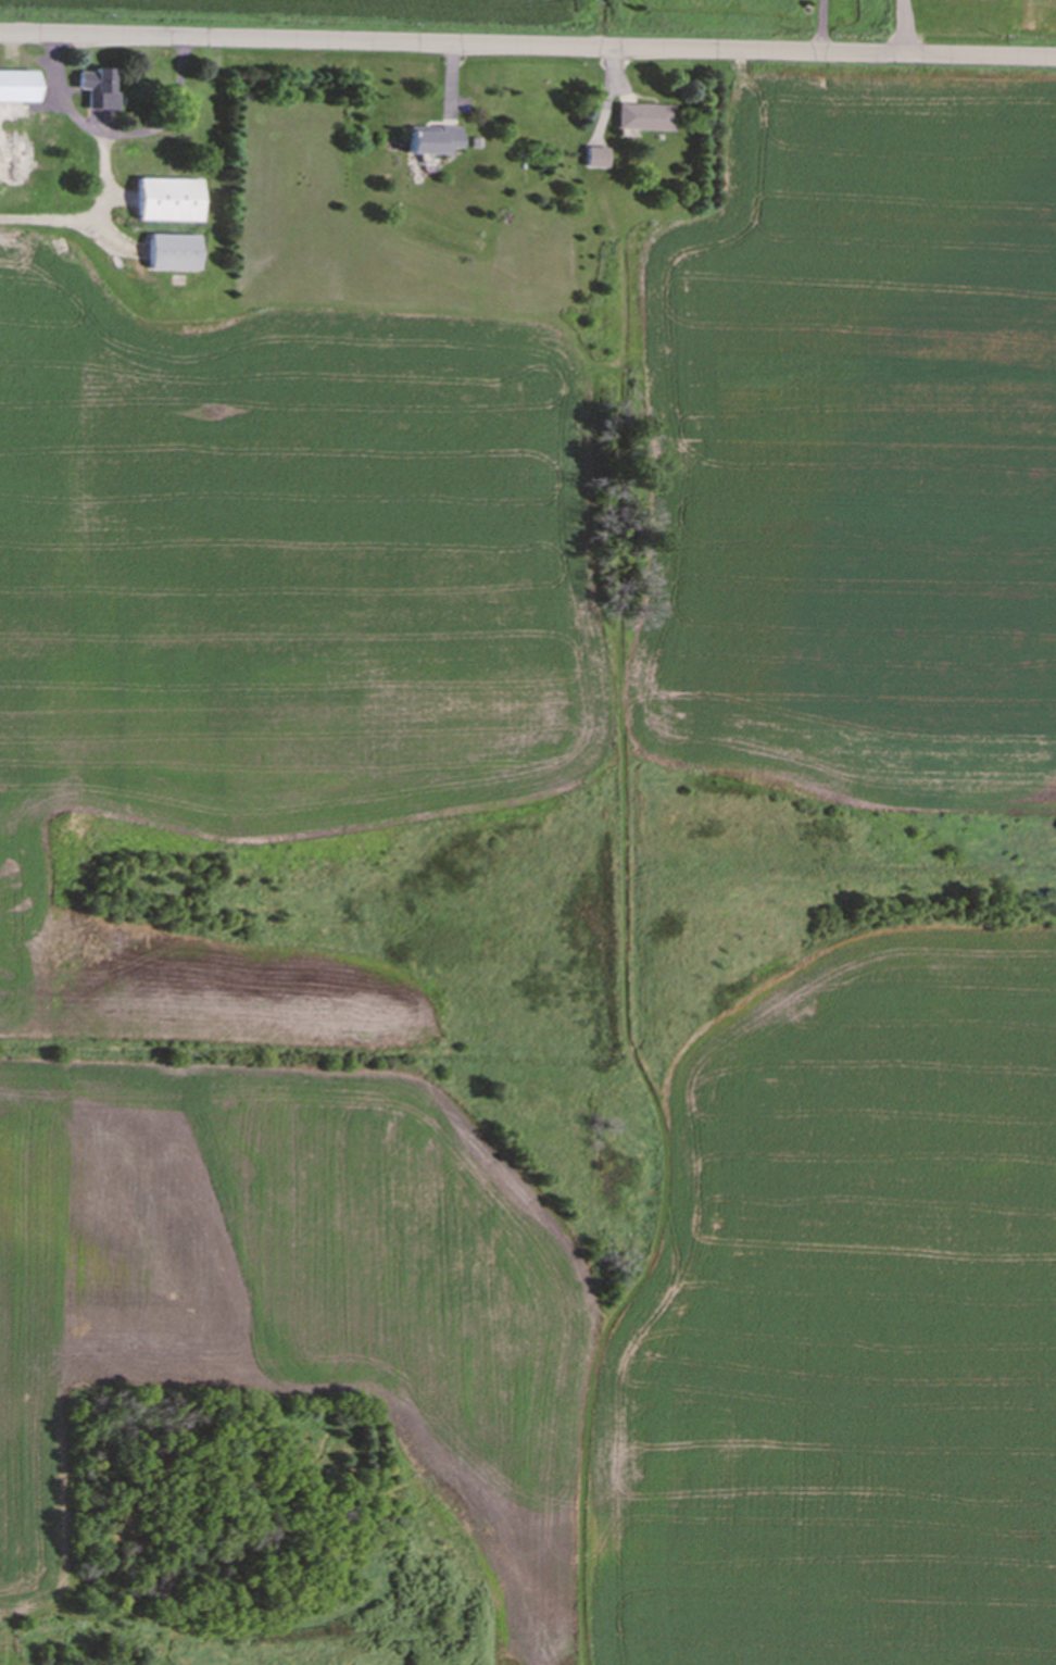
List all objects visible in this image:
crop: (432, 3)
road: (824, 26)
road: (903, 27)
road: (528, 46)
building: (16, 88)
building: (96, 90)
building: (640, 120)
road: (123, 136)
building: (45, 143)
building: (426, 143)
building: (167, 202)
building: (173, 254)
crop: (32, 864)

